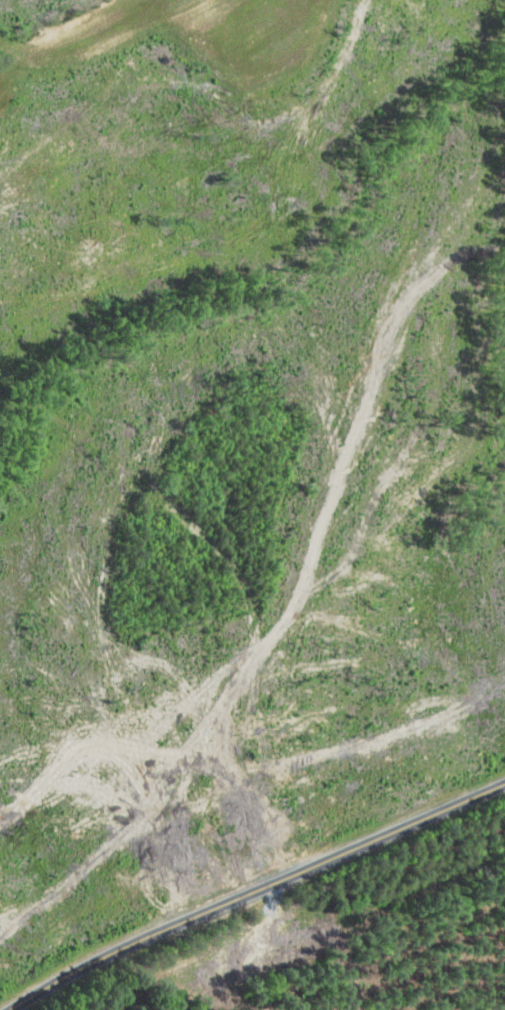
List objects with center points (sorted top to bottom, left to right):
road: (255, 892)

